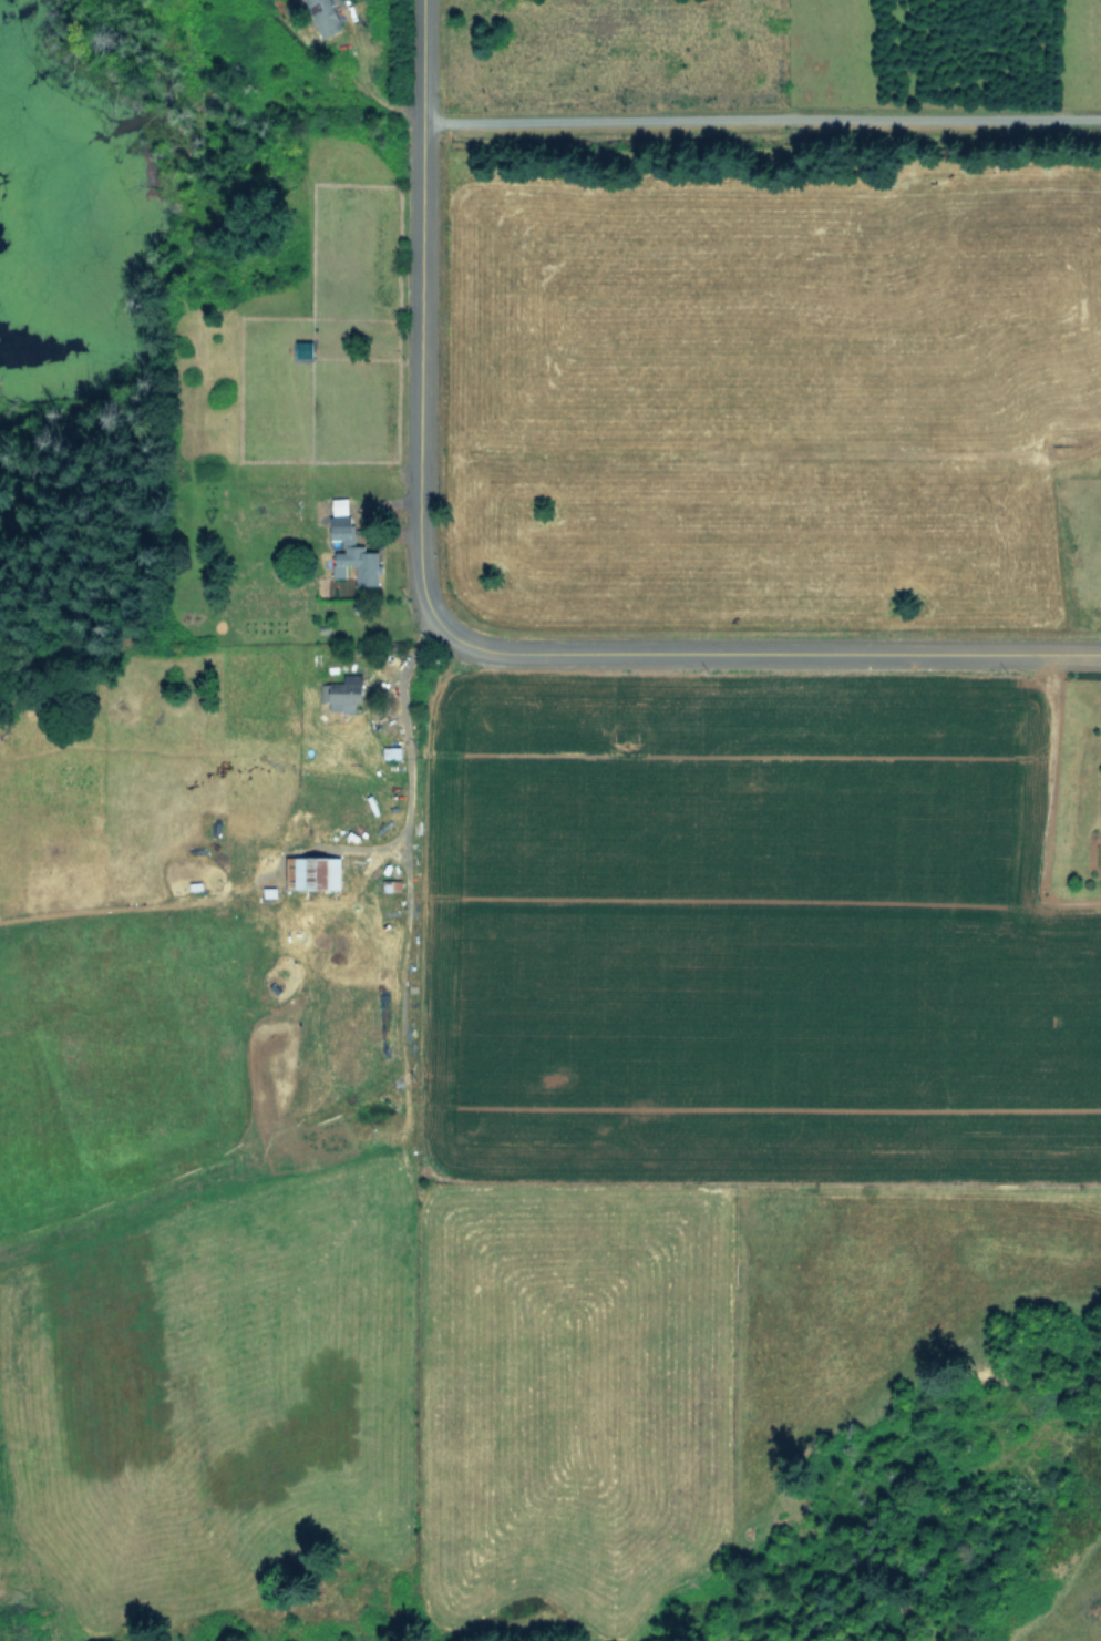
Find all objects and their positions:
building: (325, 16)
road: (763, 122)
building: (340, 505)
building: (353, 552)
road: (459, 629)
building: (344, 693)
road: (397, 731)
building: (318, 872)

